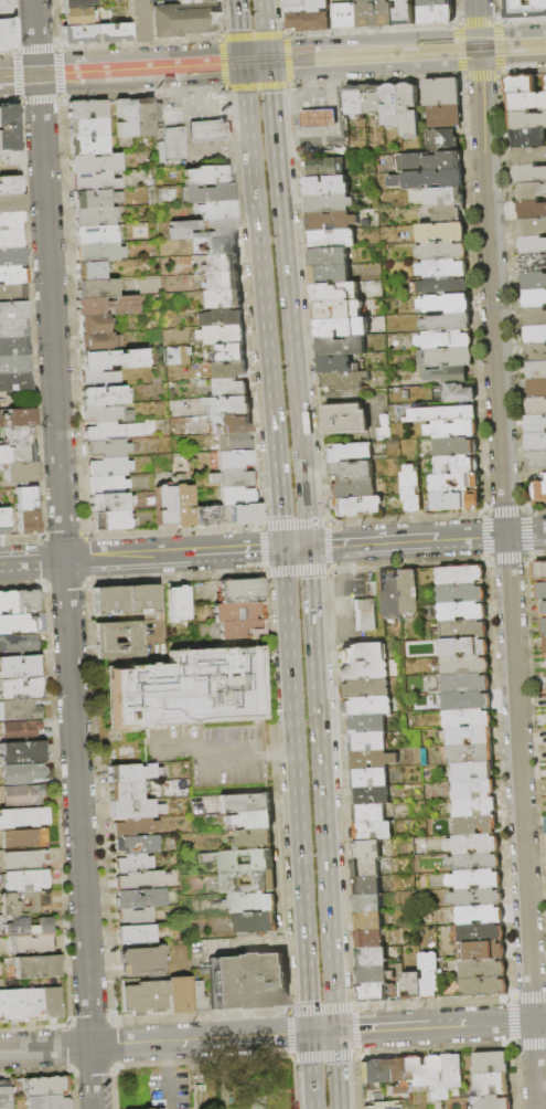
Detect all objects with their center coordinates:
building: (194, 1)
building: (432, 2)
building: (76, 3)
building: (3, 4)
building: (303, 6)
building: (523, 9)
building: (402, 12)
building: (344, 13)
building: (373, 13)
building: (430, 13)
building: (77, 15)
road: (475, 17)
building: (182, 19)
road: (523, 20)
building: (137, 21)
building: (307, 21)
road: (480, 22)
road: (263, 23)
road: (237, 24)
road: (374, 29)
road: (35, 30)
building: (111, 30)
road: (511, 30)
building: (6, 32)
building: (77, 33)
traffic signals: (478, 33)
road: (254, 34)
road: (371, 39)
road: (478, 40)
road: (140, 41)
railway: (420, 41)
road: (441, 41)
road: (38, 45)
road: (512, 46)
road: (8, 47)
traffic signals: (265, 47)
road: (503, 47)
road: (251, 49)
traffic signals: (239, 50)
road: (290, 50)
railway: (393, 50)
road: (462, 50)
railway: (291, 51)
road: (265, 53)
road: (372, 54)
road: (150, 55)
road: (240, 55)
road: (479, 55)
railway: (394, 57)
road: (289, 60)
road: (18, 61)
road: (50, 61)
road: (254, 61)
traffic signals: (266, 61)
road: (512, 61)
traffic signals: (242, 62)
road: (224, 63)
traffic signals: (480, 63)
railway: (120, 65)
road: (266, 67)
road: (120, 68)
road: (243, 68)
road: (373, 68)
road: (62, 71)
road: (525, 72)
railway: (120, 73)
railway: (185, 73)
railway: (195, 73)
road: (18, 74)
road: (38, 74)
road: (211, 74)
road: (483, 74)
traffic signals: (267, 75)
road: (255, 76)
traffic signals: (244, 77)
road: (71, 81)
road: (377, 81)
road: (153, 83)
building: (521, 84)
road: (51, 87)
road: (258, 87)
road: (19, 88)
building: (441, 92)
road: (146, 94)
road: (41, 98)
building: (373, 99)
building: (354, 101)
road: (10, 102)
building: (526, 103)
building: (392, 106)
building: (87, 109)
building: (408, 110)
building: (445, 116)
building: (141, 117)
building: (317, 117)
gas station: (317, 117)
building: (125, 118)
building: (526, 120)
building: (88, 127)
building: (205, 130)
gas station: (205, 130)
building: (9, 136)
building: (528, 138)
building: (173, 142)
building: (89, 146)
road: (220, 150)
building: (326, 154)
building: (433, 155)
building: (529, 156)
building: (95, 163)
building: (326, 168)
building: (529, 175)
building: (207, 176)
building: (426, 180)
building: (95, 182)
building: (10, 186)
building: (326, 187)
building: (532, 192)
building: (210, 193)
building: (131, 196)
building: (445, 197)
building: (92, 200)
building: (12, 203)
building: (329, 203)
building: (216, 210)
building: (533, 210)
building: (449, 214)
building: (96, 216)
building: (330, 221)
building: (10, 222)
building: (533, 228)
building: (181, 230)
building: (442, 232)
building: (97, 235)
building: (331, 239)
building: (11, 240)
building: (223, 245)
building: (533, 245)
building: (442, 251)
building: (99, 252)
building: (12, 256)
building: (329, 257)
building: (351, 263)
building: (534, 263)
building: (224, 264)
building: (442, 268)
building: (90, 271)
building: (331, 274)
building: (13, 275)
building: (535, 281)
building: (225, 282)
building: (443, 287)
building: (97, 288)
building: (12, 292)
building: (336, 293)
building: (225, 299)
building: (535, 299)
building: (448, 304)
building: (107, 306)
building: (12, 310)
road: (287, 310)
building: (339, 310)
road: (263, 311)
building: (536, 317)
building: (222, 318)
building: (448, 323)
building: (94, 325)
building: (342, 328)
building: (13, 329)
building: (224, 335)
building: (536, 336)
building: (446, 340)
building: (98, 342)
building: (342, 346)
building: (13, 347)
building: (232, 353)
building: (536, 353)
building: (175, 355)
building: (446, 358)
building: (113, 359)
building: (14, 365)
building: (336, 366)
building: (229, 370)
building: (537, 371)
building: (448, 376)
building: (100, 378)
building: (345, 381)
building: (14, 382)
building: (232, 389)
building: (537, 389)
building: (459, 394)
building: (105, 397)
building: (227, 406)
building: (537, 406)
building: (107, 414)
building: (443, 414)
building: (19, 418)
building: (345, 420)
building: (235, 424)
building: (536, 425)
building: (453, 430)
building: (114, 431)
building: (19, 435)
building: (234, 442)
building: (536, 443)
building: (456, 447)
building: (108, 448)
building: (18, 453)
building: (349, 453)
building: (234, 460)
building: (537, 460)
building: (457, 466)
building: (109, 467)
building: (22, 472)
building: (350, 472)
building: (233, 478)
building: (454, 483)
building: (108, 485)
building: (411, 488)
building: (353, 489)
building: (539, 492)
building: (236, 496)
building: (26, 499)
building: (456, 501)
building: (110, 503)
building: (182, 503)
building: (165, 507)
building: (358, 507)
road: (504, 510)
road: (524, 510)
road: (483, 511)
building: (246, 514)
building: (207, 516)
building: (4, 520)
building: (110, 521)
building: (28, 522)
road: (63, 534)
road: (84, 534)
road: (525, 534)
road: (527, 534)
road: (42, 536)
road: (483, 536)
road: (405, 540)
road: (295, 547)
traffic signals: (307, 547)
traffic signals: (282, 548)
road: (141, 556)
road: (86, 557)
road: (527, 557)
road: (486, 558)
road: (506, 558)
road: (43, 560)
road: (64, 566)
building: (539, 571)
building: (459, 575)
road: (86, 581)
road: (44, 583)
road: (65, 585)
road: (507, 585)
building: (238, 589)
building: (372, 589)
building: (542, 592)
building: (407, 593)
building: (460, 593)
building: (389, 594)
building: (138, 596)
building: (106, 599)
building: (26, 601)
building: (7, 602)
building: (173, 602)
building: (543, 609)
building: (236, 611)
building: (461, 612)
building: (363, 615)
building: (19, 624)
building: (237, 627)
building: (544, 627)
building: (462, 630)
building: (99, 638)
building: (545, 643)
building: (18, 645)
building: (463, 647)
building: (362, 653)
building: (464, 665)
building: (20, 667)
building: (363, 670)
building: (465, 683)
building: (185, 687)
building: (21, 689)
building: (364, 689)
building: (465, 700)
building: (366, 707)
building: (20, 710)
building: (467, 718)
building: (366, 725)
building: (21, 731)
building: (468, 736)
building: (367, 742)
parking lot: (208, 750)
building: (22, 753)
road: (278, 753)
building: (467, 753)
road: (204, 756)
building: (371, 759)
building: (121, 772)
building: (470, 772)
building: (24, 773)
building: (368, 778)
road: (320, 788)
road: (295, 790)
building: (473, 790)
building: (122, 791)
building: (23, 795)
building: (370, 796)
building: (242, 802)
building: (473, 807)
building: (132, 809)
building: (372, 814)
building: (23, 817)
building: (248, 818)
building: (131, 826)
building: (475, 826)
building: (372, 832)
building: (250, 837)
building: (24, 838)
building: (133, 843)
building: (472, 844)
building: (366, 849)
building: (25, 859)
building: (244, 859)
building: (129, 862)
building: (473, 862)
building: (365, 867)
building: (138, 879)
building: (474, 879)
building: (26, 880)
building: (245, 880)
building: (366, 885)
building: (167, 889)
building: (136, 897)
building: (475, 898)
building: (248, 901)
building: (24, 902)
building: (366, 904)
building: (479, 915)
building: (132, 916)
building: (254, 921)
building: (368, 921)
building: (28, 927)
building: (132, 933)
building: (480, 933)
building: (368, 939)
building: (33, 943)
building: (481, 951)
building: (371, 957)
building: (139, 960)
building: (38, 967)
building: (482, 969)
building: (374, 975)
building: (428, 975)
building: (246, 980)
building: (411, 985)
building: (483, 987)
building: (373, 993)
building: (154, 994)
building: (195, 996)
building: (52, 1002)
building: (33, 1003)
building: (3, 1004)
building: (15, 1004)
road: (439, 1025)
road: (320, 1031)
traffic signals: (332, 1031)
traffic signals: (309, 1032)
road: (153, 1039)
road: (164, 1052)
building: (491, 1064)
road: (334, 1069)
road: (310, 1070)
building: (452, 1070)
building: (374, 1071)
road: (242, 1073)
building: (397, 1075)
road: (92, 1076)
building: (418, 1076)
building: (436, 1079)
road: (167, 1085)
building: (492, 1085)
building: (44, 1086)
parking lot: (167, 1090)
building: (6, 1097)
building: (46, 1101)
building: (489, 1102)
building: (383, 1106)

